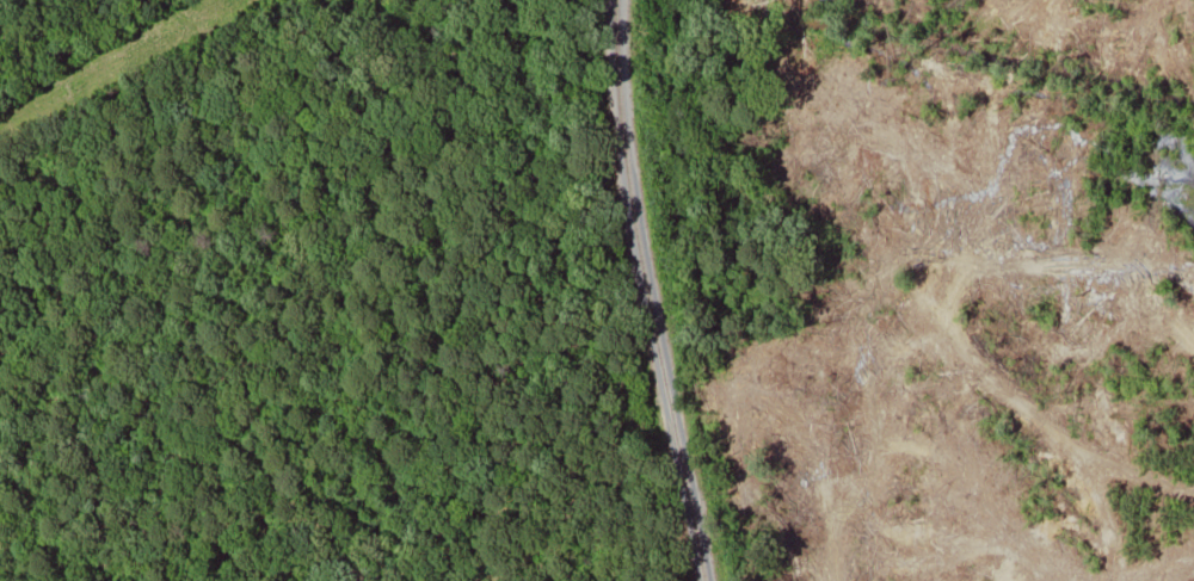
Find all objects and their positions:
railway: (661, 290)

